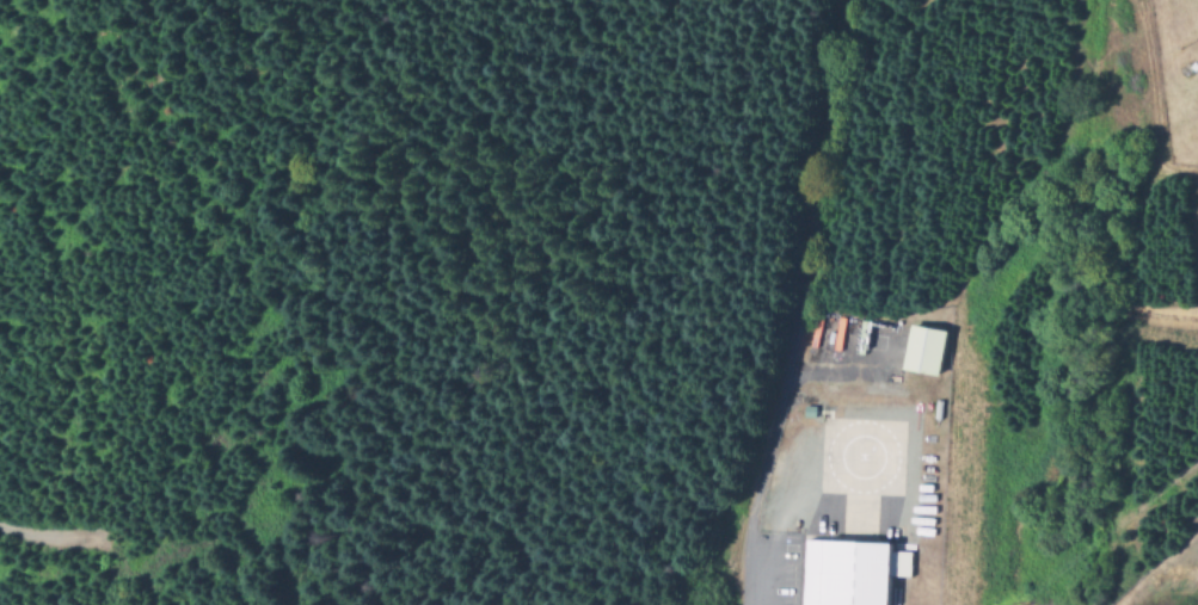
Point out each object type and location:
road: (797, 303)
building: (924, 351)
building: (853, 573)

